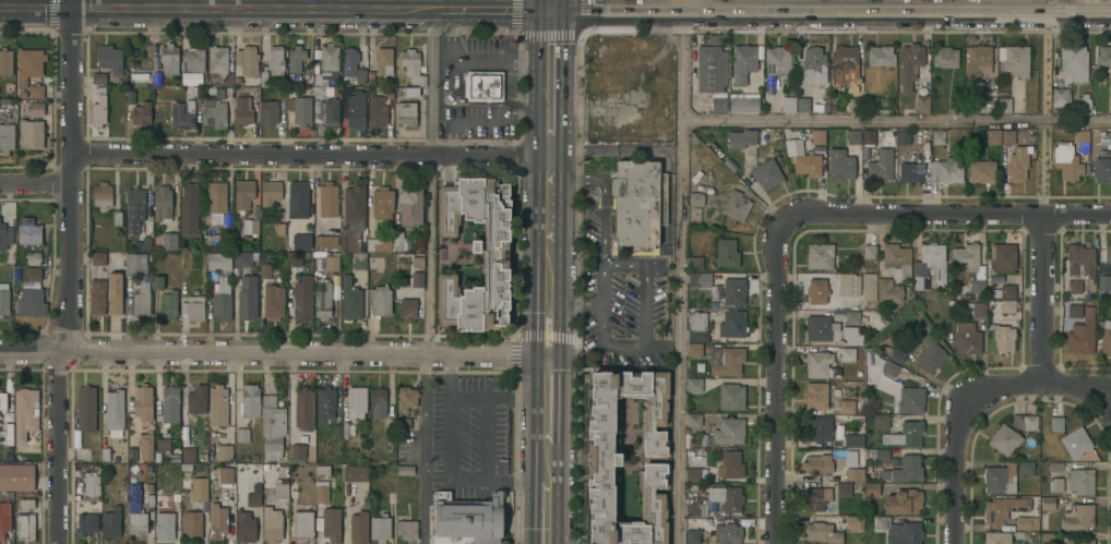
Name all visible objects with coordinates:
road: (68, 3)
road: (550, 4)
road: (660, 4)
road: (1007, 4)
road: (34, 5)
road: (254, 8)
road: (495, 9)
traffic signals: (550, 9)
road: (829, 10)
building: (880, 56)
building: (944, 56)
building: (109, 58)
building: (155, 58)
building: (169, 58)
building: (295, 58)
building: (193, 59)
building: (217, 59)
building: (1014, 59)
building: (5, 60)
building: (247, 60)
building: (776, 60)
building: (978, 60)
building: (1104, 60)
building: (383, 61)
road: (474, 62)
building: (742, 62)
building: (1074, 62)
building: (275, 63)
building: (326, 63)
building: (812, 63)
building: (909, 64)
building: (27, 65)
building: (411, 65)
building: (845, 67)
building: (351, 68)
building: (709, 68)
building: (98, 77)
building: (156, 77)
building: (263, 77)
building: (370, 77)
building: (183, 78)
building: (307, 78)
building: (237, 80)
building: (228, 81)
road: (549, 81)
building: (768, 83)
building: (482, 85)
building: (35, 90)
building: (195, 90)
building: (336, 90)
building: (318, 92)
building: (410, 92)
building: (390, 93)
building: (130, 96)
building: (1060, 96)
building: (922, 102)
building: (718, 104)
building: (743, 104)
building: (787, 104)
building: (802, 104)
building: (855, 104)
building: (870, 104)
building: (956, 104)
building: (970, 104)
building: (1004, 104)
building: (1083, 104)
building: (1110, 105)
building: (98, 106)
building: (832, 107)
building: (35, 108)
building: (356, 109)
building: (242, 110)
building: (300, 110)
building: (331, 110)
building: (377, 110)
building: (214, 112)
building: (268, 112)
building: (405, 112)
building: (141, 113)
building: (181, 116)
road: (490, 120)
road: (895, 120)
road: (1041, 122)
building: (802, 130)
building: (29, 133)
building: (817, 136)
building: (852, 136)
building: (867, 136)
building: (903, 136)
building: (937, 136)
building: (992, 136)
building: (1007, 136)
building: (740, 137)
building: (5, 138)
building: (1082, 140)
building: (1110, 142)
road: (309, 154)
building: (1066, 160)
building: (807, 165)
building: (840, 165)
building: (880, 166)
building: (1016, 167)
building: (1102, 169)
building: (946, 170)
building: (910, 171)
building: (981, 171)
building: (766, 173)
road: (34, 182)
building: (270, 192)
building: (243, 193)
building: (101, 194)
road: (548, 196)
building: (297, 198)
building: (695, 198)
building: (327, 200)
building: (162, 203)
building: (214, 203)
building: (382, 203)
building: (637, 203)
building: (734, 205)
building: (410, 206)
building: (134, 208)
building: (188, 208)
building: (255, 211)
road: (945, 214)
building: (117, 217)
building: (353, 218)
building: (248, 226)
building: (279, 228)
building: (28, 231)
building: (4, 237)
building: (397, 240)
building: (169, 241)
building: (301, 241)
building: (146, 242)
building: (325, 242)
building: (206, 243)
building: (379, 243)
building: (868, 251)
building: (726, 252)
building: (1108, 253)
building: (819, 255)
building: (1001, 255)
building: (896, 257)
building: (966, 257)
building: (33, 258)
building: (98, 258)
building: (242, 258)
building: (494, 258)
building: (294, 259)
building: (933, 259)
building: (1079, 259)
building: (218, 261)
building: (358, 261)
building: (417, 261)
building: (331, 263)
road: (631, 263)
building: (694, 263)
building: (138, 264)
building: (264, 269)
road: (429, 271)
building: (33, 275)
road: (67, 275)
building: (320, 276)
road: (679, 276)
building: (417, 278)
building: (698, 279)
building: (846, 279)
building: (157, 281)
building: (1103, 281)
building: (920, 282)
building: (1074, 286)
building: (977, 287)
building: (815, 290)
building: (888, 290)
building: (733, 291)
building: (1007, 291)
building: (114, 292)
building: (247, 297)
road: (548, 297)
road: (1039, 297)
building: (96, 298)
building: (301, 298)
building: (141, 299)
building: (349, 299)
building: (3, 300)
building: (322, 300)
building: (380, 300)
building: (220, 301)
building: (272, 301)
building: (31, 303)
building: (168, 304)
building: (1007, 305)
building: (193, 307)
road: (574, 307)
building: (976, 307)
building: (407, 309)
building: (1071, 311)
building: (851, 317)
building: (731, 324)
building: (697, 326)
building: (829, 329)
building: (1082, 333)
building: (1104, 335)
building: (1003, 337)
building: (966, 338)
building: (694, 349)
road: (273, 352)
building: (846, 353)
building: (930, 353)
building: (896, 354)
building: (725, 360)
building: (820, 364)
building: (888, 367)
road: (775, 382)
road: (1076, 383)
building: (693, 384)
building: (815, 395)
building: (730, 396)
building: (406, 397)
road: (546, 398)
building: (196, 399)
building: (217, 399)
building: (910, 399)
building: (2, 400)
building: (249, 400)
building: (357, 400)
building: (143, 401)
building: (377, 402)
building: (169, 403)
building: (325, 403)
building: (846, 406)
building: (86, 408)
building: (302, 408)
building: (115, 409)
building: (24, 412)
building: (693, 419)
building: (880, 421)
building: (1025, 421)
building: (404, 423)
building: (1055, 423)
building: (272, 426)
building: (817, 427)
building: (345, 428)
building: (336, 431)
building: (728, 431)
building: (8, 433)
building: (224, 433)
building: (907, 433)
building: (115, 434)
building: (241, 434)
road: (957, 435)
building: (93, 438)
building: (1004, 438)
building: (852, 439)
building: (1077, 443)
building: (163, 445)
building: (145, 446)
building: (105, 454)
building: (188, 454)
building: (296, 454)
building: (131, 455)
building: (877, 455)
building: (202, 456)
building: (604, 460)
road: (545, 462)
building: (819, 462)
building: (730, 464)
building: (1055, 466)
building: (1026, 468)
building: (280, 469)
building: (404, 469)
building: (904, 469)
building: (354, 472)
building: (852, 473)
building: (225, 474)
building: (692, 474)
building: (15, 477)
building: (1000, 477)
building: (1080, 480)
building: (321, 484)
building: (855, 484)
building: (1055, 484)
building: (91, 486)
building: (199, 488)
building: (280, 488)
building: (843, 488)
building: (871, 488)
building: (292, 489)
building: (176, 496)
building: (726, 497)
building: (815, 497)
building: (150, 499)
building: (251, 499)
building: (867, 499)
building: (903, 500)
building: (26, 503)
building: (1047, 503)
building: (828, 507)
building: (1002, 508)
building: (695, 509)
building: (135, 510)
road: (543, 513)
building: (1077, 516)
building: (4, 517)
building: (466, 519)
building: (217, 521)
building: (86, 522)
building: (111, 522)
building: (853, 522)
building: (1022, 522)
building: (191, 523)
building: (331, 523)
building: (24, 525)
building: (165, 525)
building: (272, 525)
building: (302, 525)
building: (358, 525)
building: (244, 527)
building: (380, 528)
building: (406, 529)
building: (898, 531)
building: (821, 532)
building: (727, 533)
building: (692, 536)
building: (995, 537)
building: (1047, 537)
building: (1080, 541)

